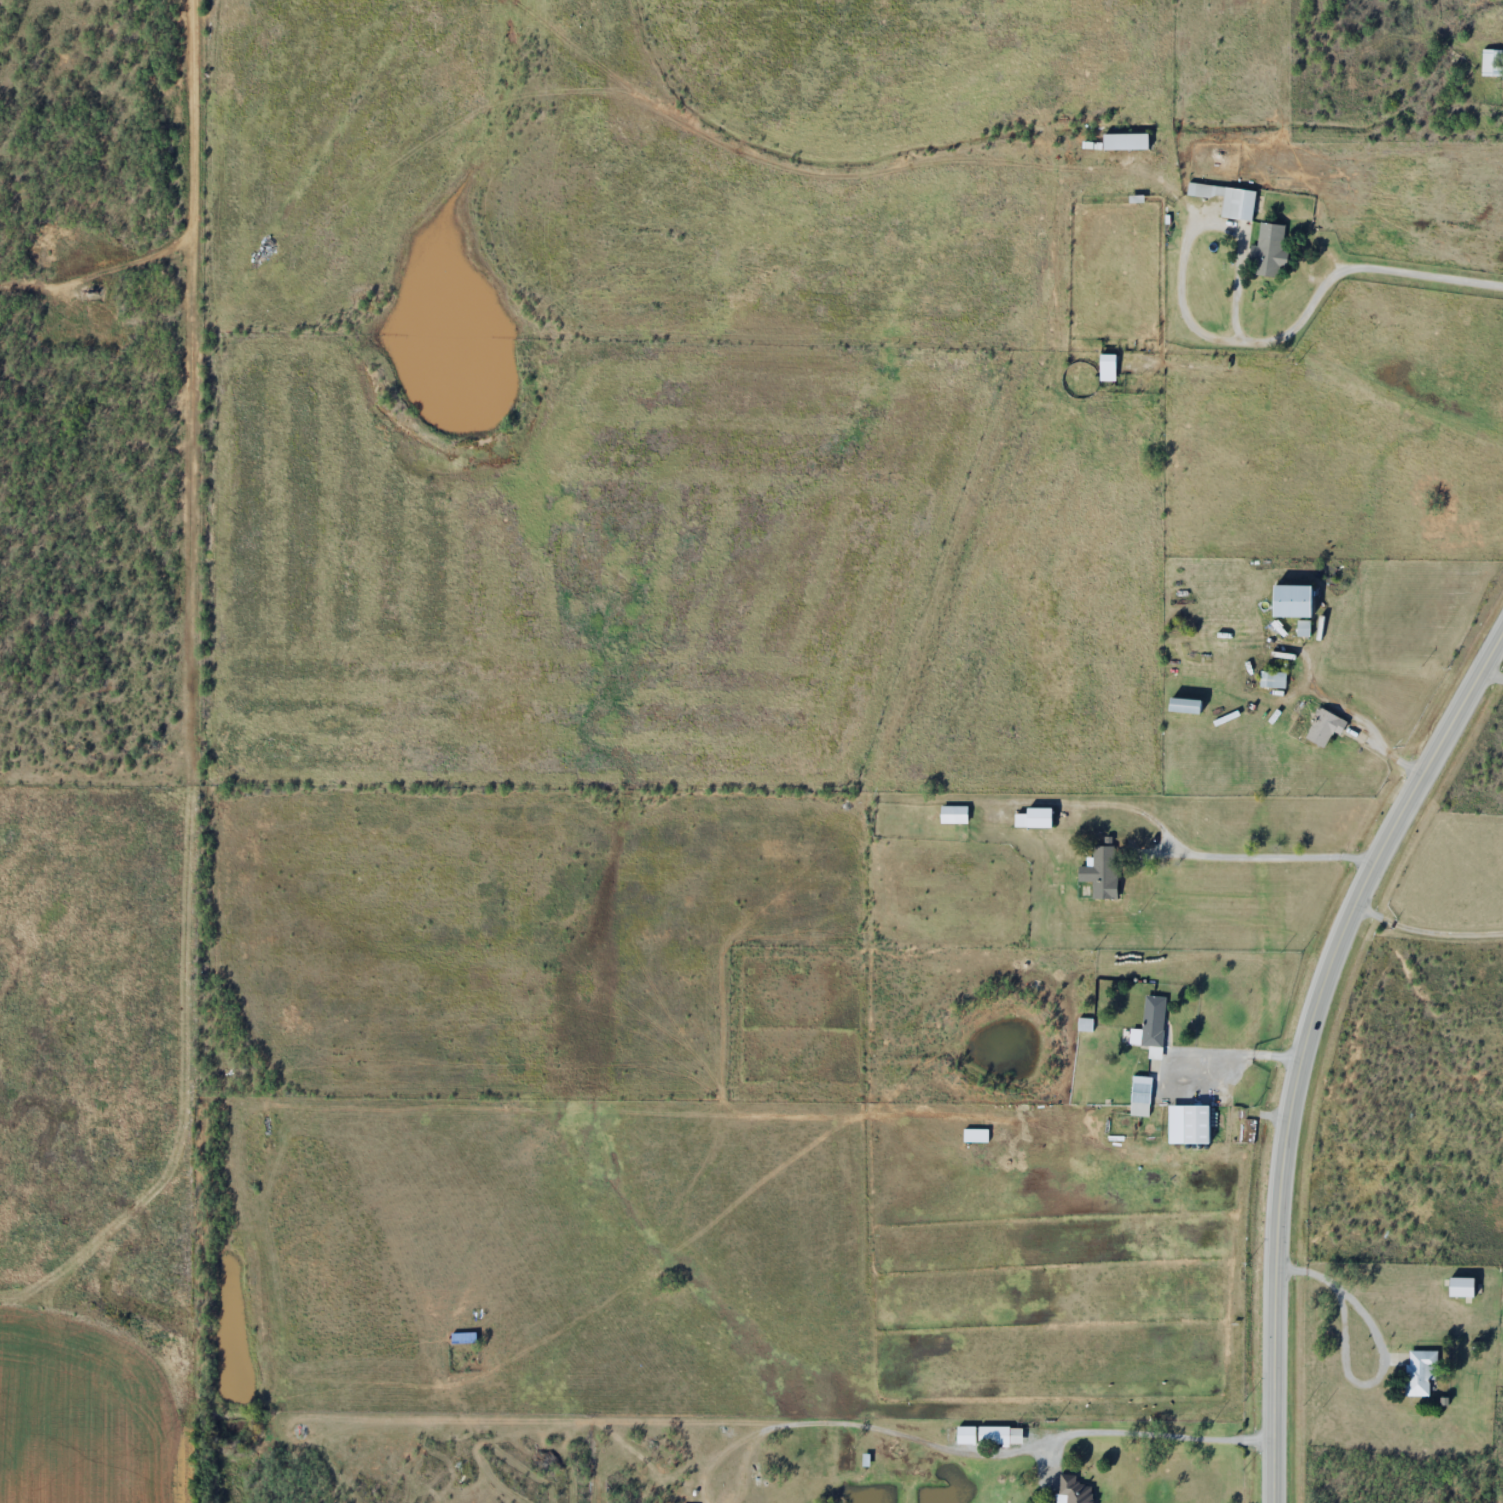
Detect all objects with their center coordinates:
building: (1492, 62)
building: (1125, 141)
building: (1227, 199)
building: (1267, 255)
building: (1106, 368)
building: (1290, 601)
building: (1272, 679)
building: (1183, 705)
building: (1324, 727)
building: (953, 814)
building: (1032, 818)
building: (1100, 873)
road: (1350, 916)
building: (1152, 1020)
building: (1140, 1096)
building: (1194, 1125)
building: (1490, 1272)
building: (462, 1337)
road: (1274, 1364)
building: (1419, 1372)
building: (964, 1435)
building: (999, 1435)
building: (753, 1475)
building: (1072, 1490)

